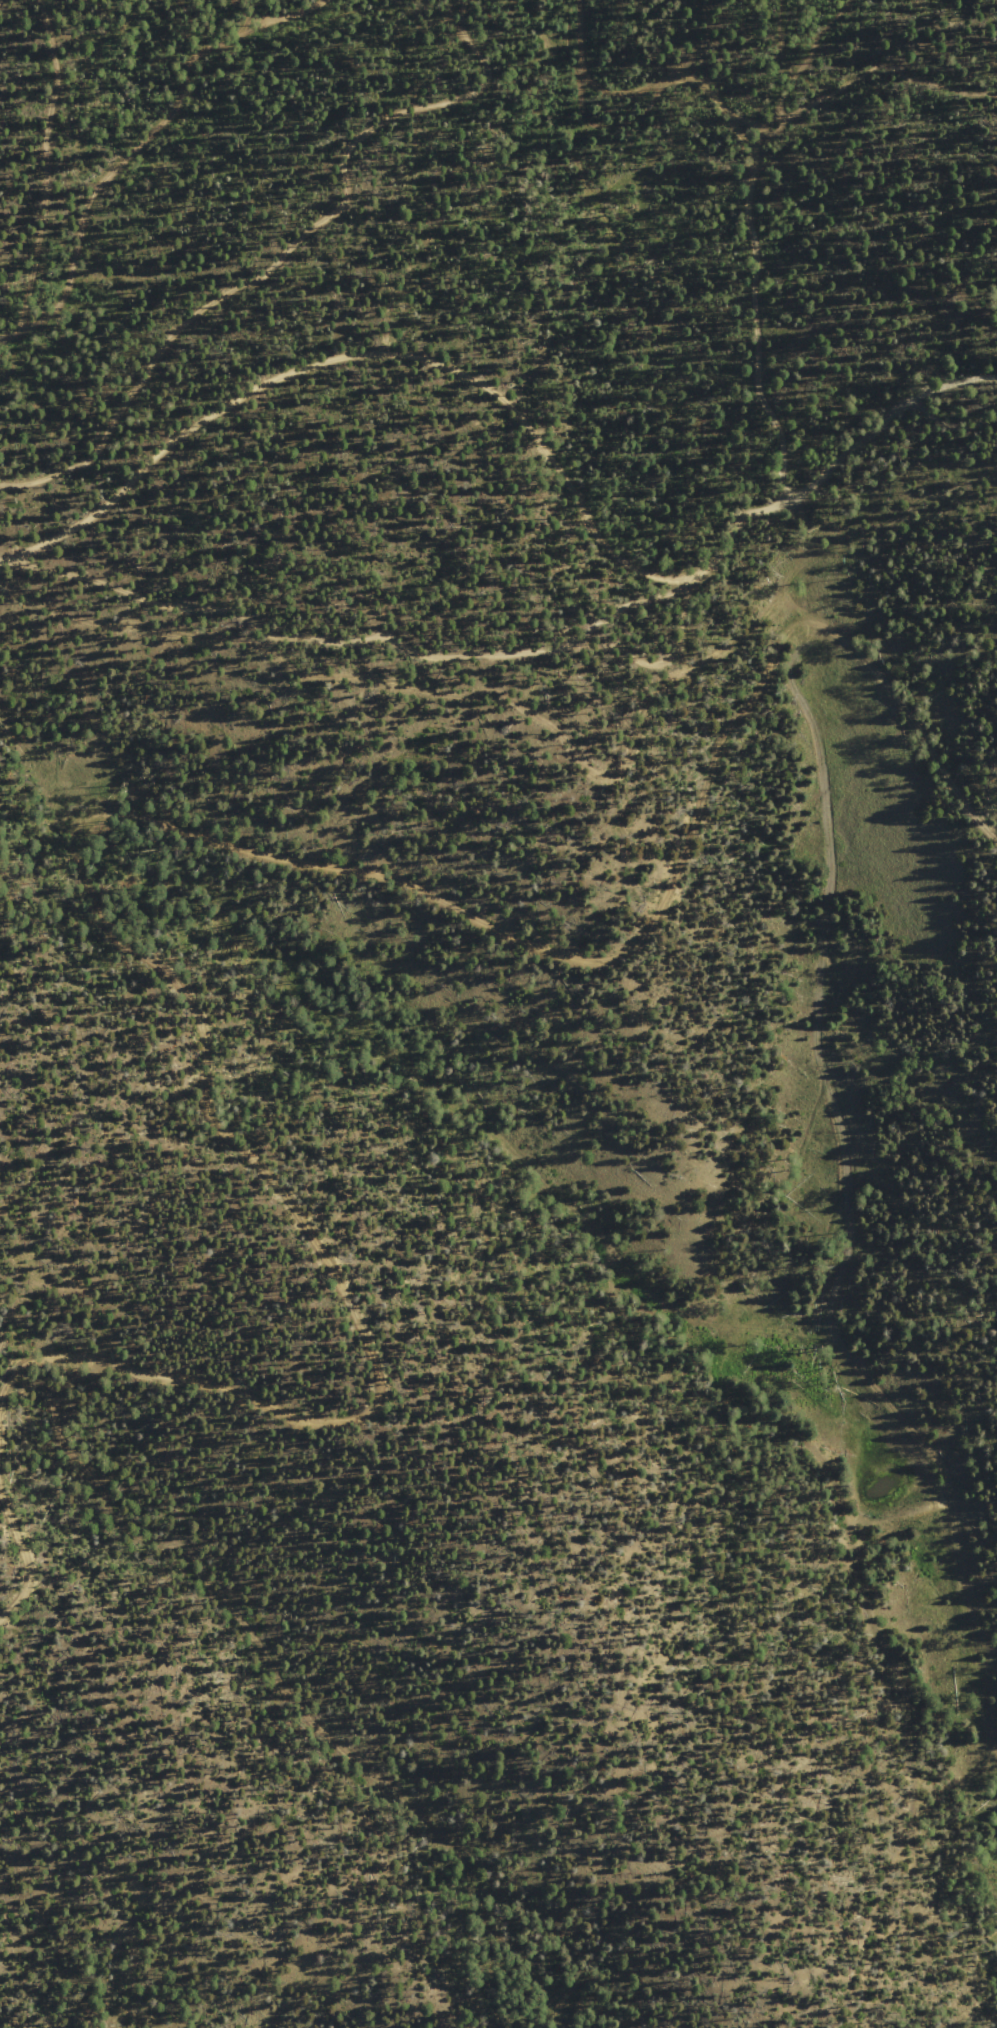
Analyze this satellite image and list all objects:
road: (284, 20)
road: (816, 55)
road: (881, 66)
road: (760, 170)
road: (119, 172)
park: (185, 177)
road: (243, 250)
road: (355, 358)
road: (796, 455)
road: (40, 546)
road: (360, 613)
road: (471, 923)
road: (432, 1451)

